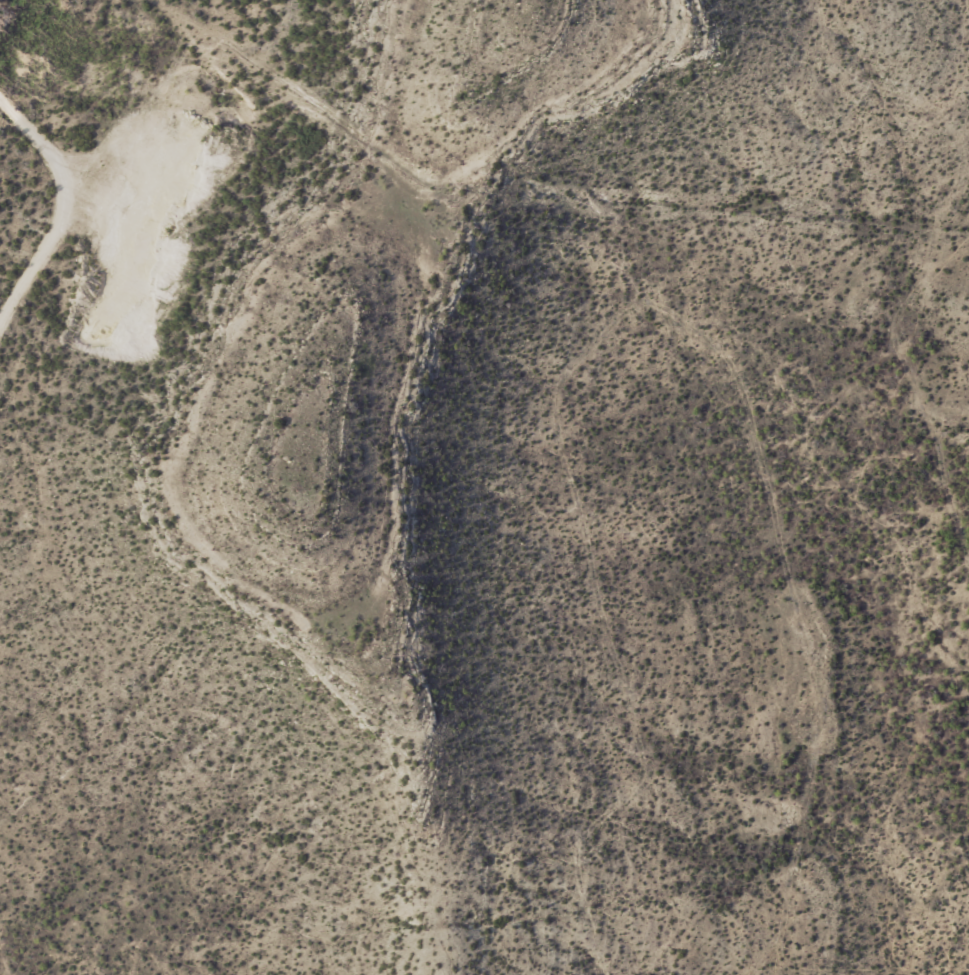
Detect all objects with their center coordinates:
road: (40, 239)

